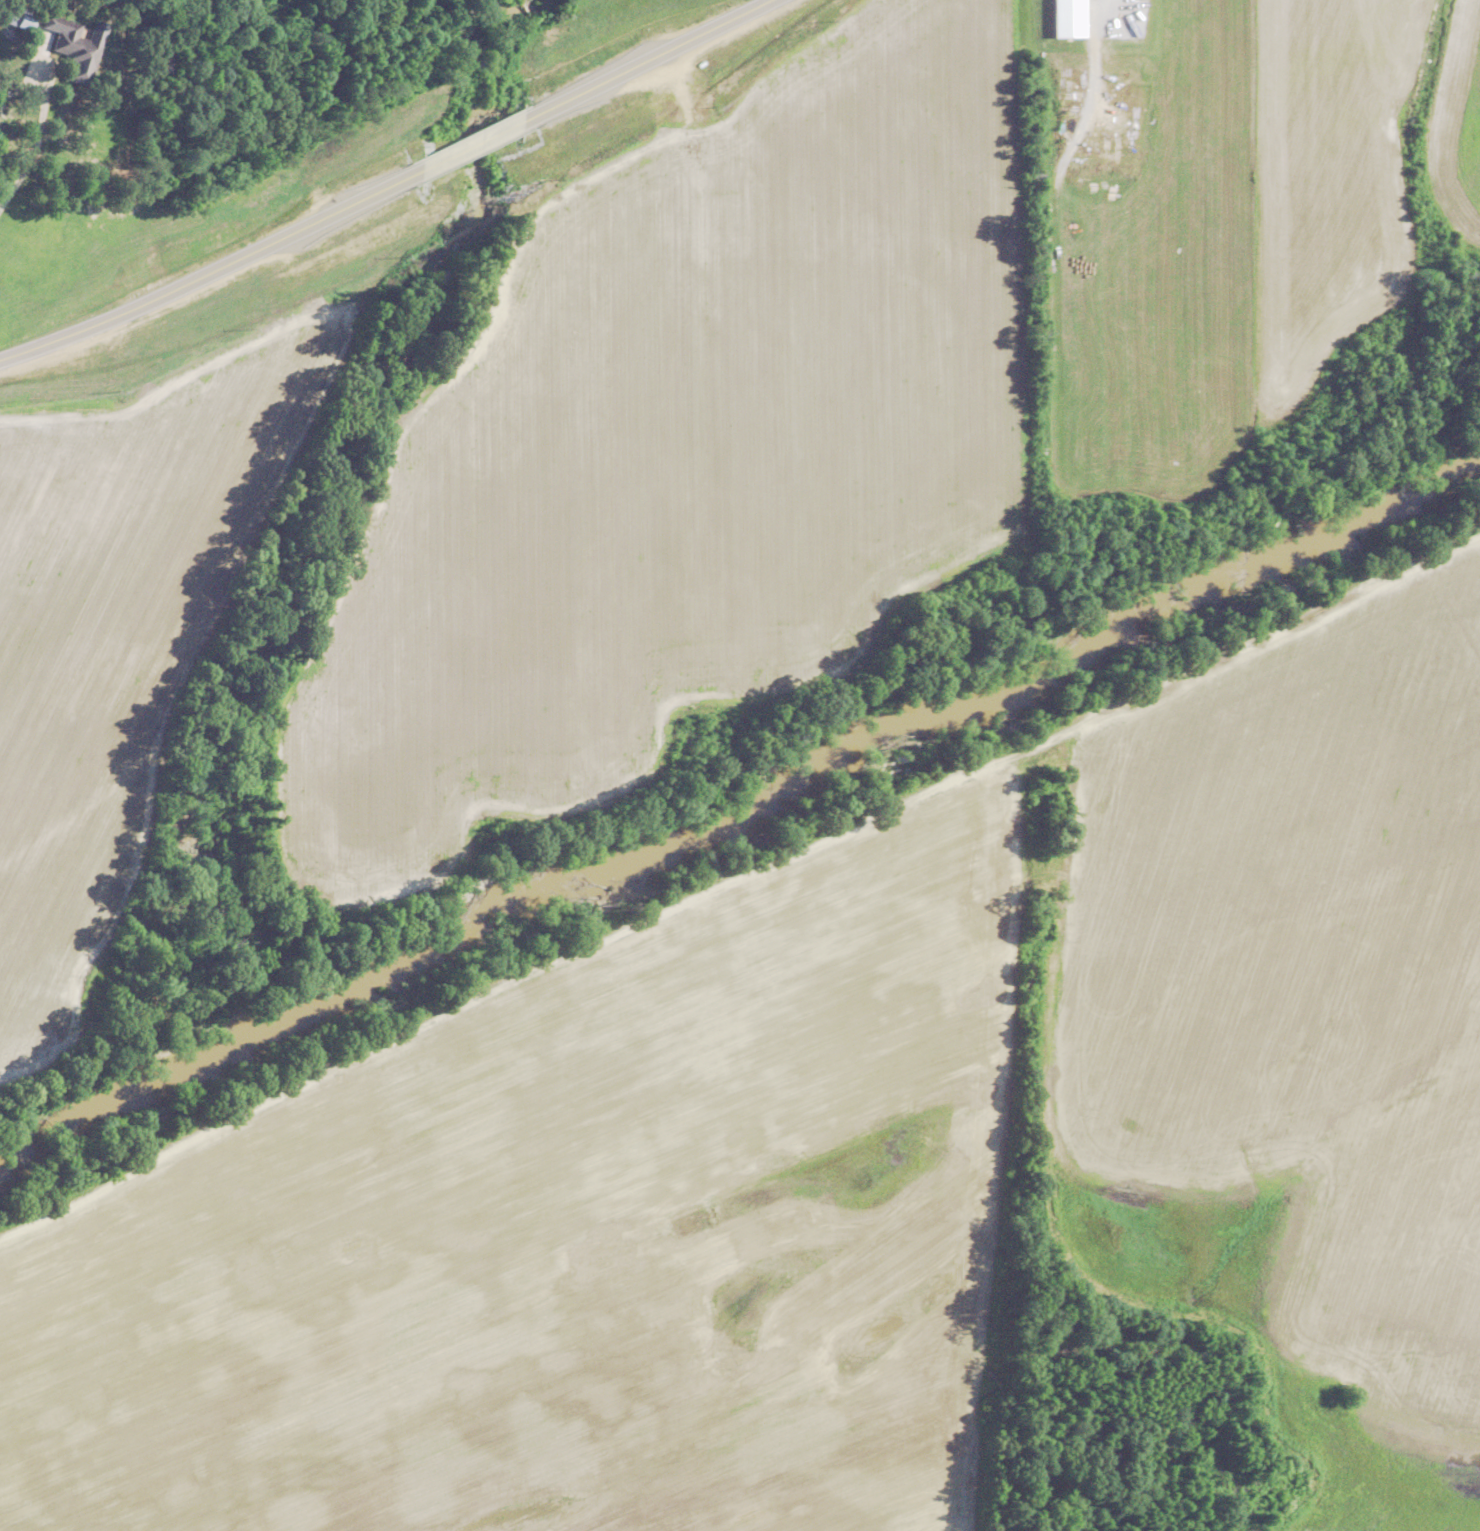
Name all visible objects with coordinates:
road: (1092, 9)
building: (25, 19)
building: (76, 45)
road: (656, 90)
road: (29, 116)
road: (479, 186)
road: (233, 303)
river: (740, 808)

